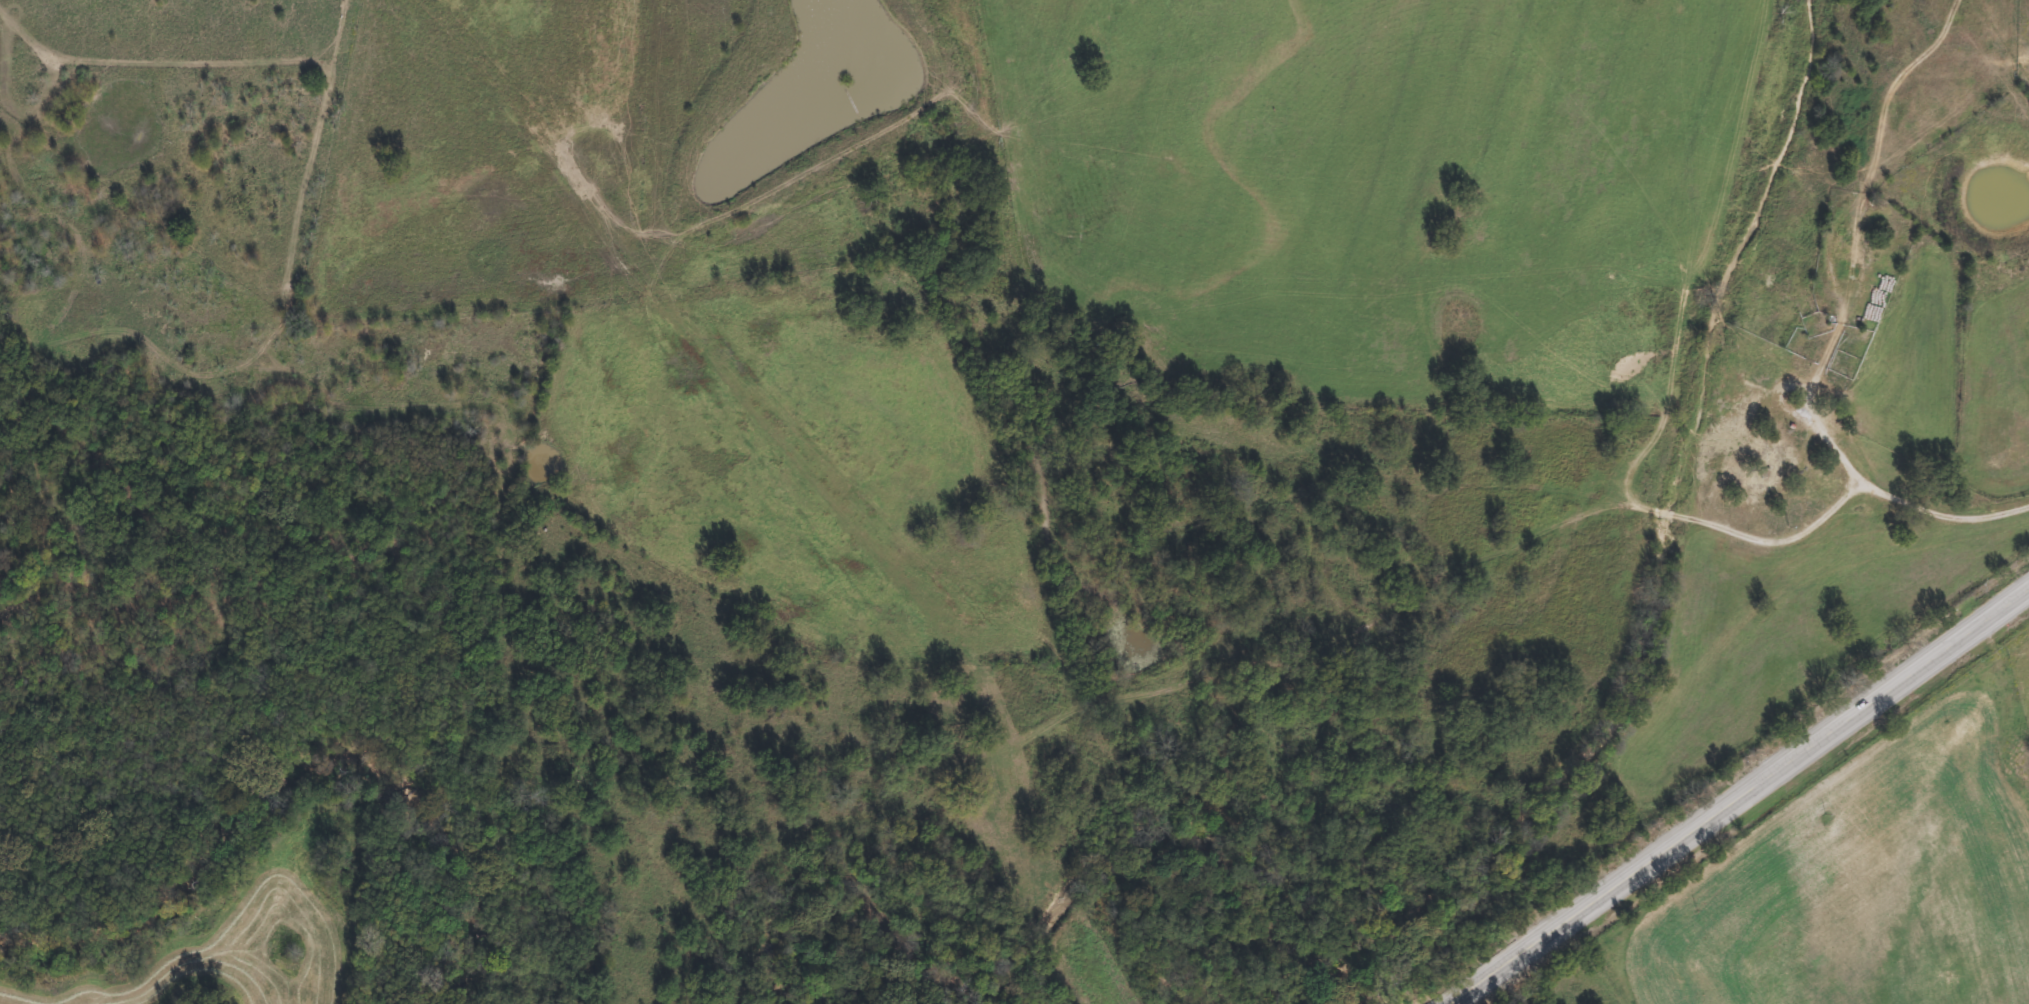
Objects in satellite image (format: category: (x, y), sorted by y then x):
road: (38, 60)
road: (1713, 218)
road: (1875, 238)
building: (1847, 246)
building: (1804, 306)
building: (1827, 400)
building: (1776, 453)
building: (1750, 482)
road: (1942, 504)
road: (1729, 558)
road: (1738, 795)

